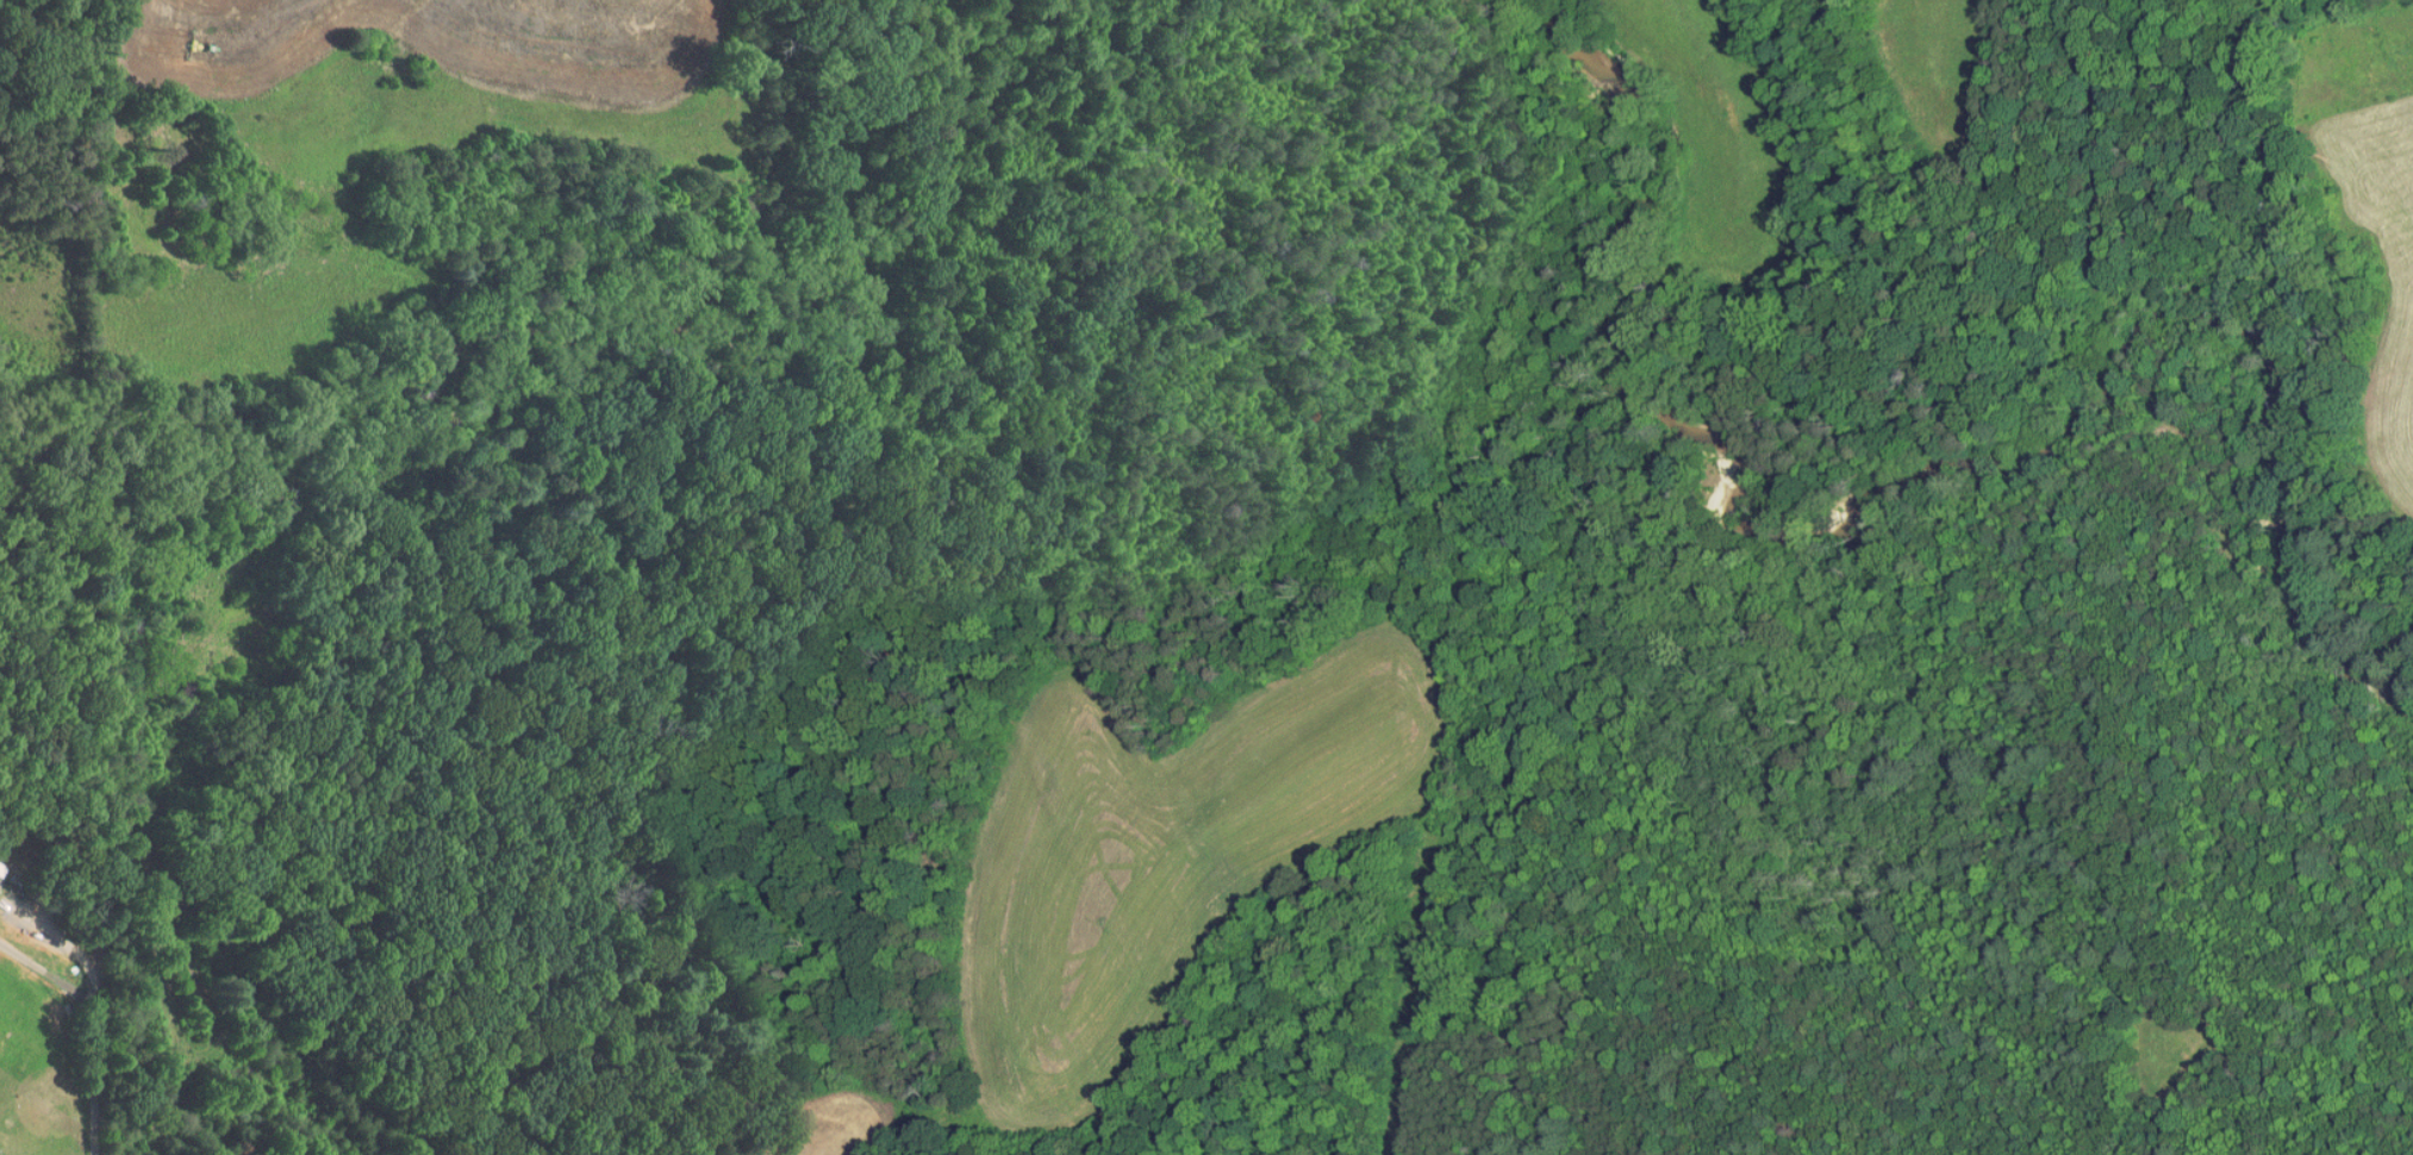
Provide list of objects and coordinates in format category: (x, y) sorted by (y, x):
building: (1, 866)
road: (102, 1017)

